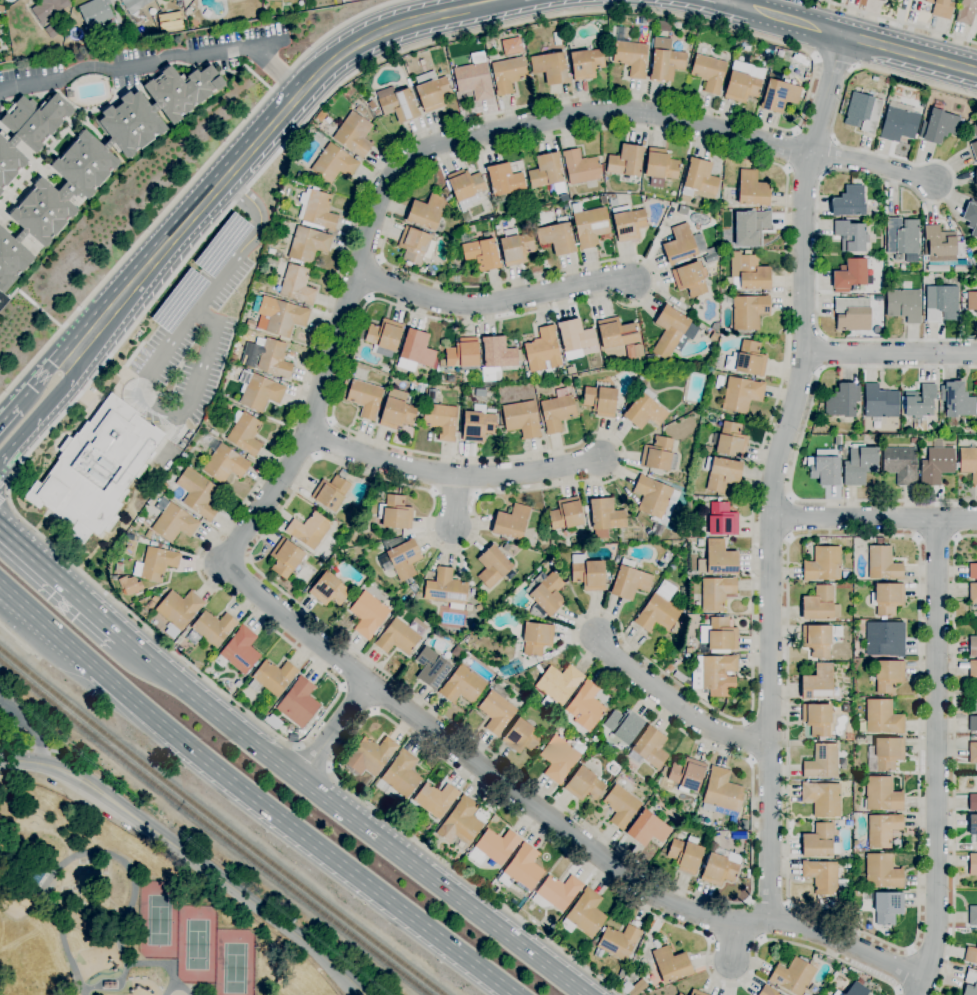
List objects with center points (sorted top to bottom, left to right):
building: (880, 0)
road: (725, 1)
road: (732, 1)
building: (134, 5)
building: (49, 8)
building: (941, 8)
building: (966, 12)
building: (96, 13)
road: (436, 16)
building: (650, 20)
road: (898, 21)
building: (663, 26)
building: (679, 26)
building: (53, 30)
road: (854, 38)
building: (510, 46)
building: (770, 48)
building: (629, 54)
road: (157, 61)
building: (665, 61)
road: (833, 61)
road: (330, 64)
building: (586, 64)
building: (550, 68)
building: (708, 73)
building: (507, 75)
building: (473, 81)
building: (743, 81)
building: (432, 91)
building: (69, 94)
building: (779, 96)
building: (397, 104)
building: (976, 111)
building: (862, 112)
building: (899, 124)
building: (940, 126)
building: (974, 130)
building: (28, 131)
road: (795, 131)
building: (352, 134)
road: (261, 137)
road: (815, 138)
road: (835, 141)
building: (974, 149)
road: (793, 150)
road: (829, 156)
road: (751, 158)
building: (100, 159)
building: (626, 161)
building: (334, 164)
road: (873, 165)
building: (660, 167)
building: (581, 169)
road: (787, 169)
road: (807, 170)
building: (546, 171)
road: (825, 173)
road: (395, 174)
building: (976, 178)
building: (504, 180)
road: (191, 181)
building: (698, 181)
road: (906, 186)
building: (465, 188)
building: (752, 189)
building: (613, 202)
building: (849, 202)
building: (317, 209)
building: (426, 212)
building: (971, 216)
building: (627, 223)
road: (185, 224)
building: (590, 227)
building: (750, 227)
building: (485, 235)
building: (851, 236)
building: (902, 236)
building: (557, 237)
road: (247, 238)
building: (308, 244)
building: (680, 244)
building: (222, 245)
building: (415, 245)
building: (941, 245)
building: (516, 249)
building: (481, 254)
building: (710, 257)
road: (379, 259)
building: (937, 269)
building: (748, 273)
building: (851, 276)
road: (371, 278)
building: (691, 279)
building: (297, 285)
building: (876, 296)
road: (368, 298)
building: (179, 301)
road: (493, 302)
building: (971, 302)
building: (941, 303)
building: (904, 305)
road: (112, 311)
building: (749, 312)
building: (852, 314)
building: (282, 316)
building: (669, 331)
building: (616, 333)
building: (384, 334)
building: (574, 335)
road: (822, 336)
building: (713, 337)
parking lot: (192, 342)
building: (543, 350)
building: (415, 351)
building: (637, 351)
building: (463, 353)
building: (499, 353)
road: (819, 353)
road: (889, 353)
building: (232, 358)
building: (272, 358)
building: (747, 360)
building: (650, 361)
road: (819, 371)
road: (39, 373)
building: (261, 393)
building: (479, 393)
building: (741, 395)
building: (365, 398)
building: (600, 400)
building: (842, 400)
building: (957, 401)
building: (879, 402)
building: (920, 403)
road: (165, 409)
road: (5, 411)
road: (44, 411)
building: (398, 411)
building: (645, 411)
building: (556, 413)
building: (521, 419)
building: (441, 420)
road: (330, 421)
building: (477, 426)
building: (245, 434)
road: (321, 438)
building: (913, 440)
building: (731, 441)
road: (798, 447)
building: (708, 450)
building: (657, 454)
building: (183, 456)
road: (316, 456)
building: (968, 463)
building: (225, 464)
building: (859, 465)
building: (900, 465)
building: (936, 465)
building: (95, 468)
building: (825, 468)
building: (722, 473)
road: (774, 473)
road: (450, 474)
road: (5, 491)
road: (433, 491)
road: (454, 491)
building: (331, 493)
building: (197, 494)
road: (476, 494)
building: (652, 496)
road: (790, 498)
road: (454, 500)
building: (394, 513)
building: (566, 514)
building: (605, 517)
road: (787, 518)
road: (874, 518)
building: (722, 520)
building: (173, 521)
building: (511, 523)
building: (309, 530)
road: (788, 538)
building: (285, 558)
building: (404, 559)
building: (718, 560)
building: (883, 563)
building: (156, 564)
building: (823, 565)
building: (492, 567)
building: (973, 571)
building: (587, 573)
road: (62, 581)
building: (629, 581)
building: (129, 585)
building: (329, 589)
building: (446, 589)
building: (716, 593)
building: (973, 593)
building: (545, 594)
building: (157, 597)
building: (887, 598)
building: (150, 604)
building: (820, 605)
road: (16, 610)
building: (659, 610)
building: (179, 611)
building: (369, 614)
building: (211, 629)
building: (678, 629)
building: (719, 635)
building: (397, 637)
building: (537, 638)
building: (885, 639)
building: (819, 640)
road: (19, 641)
road: (162, 643)
building: (973, 646)
building: (688, 650)
building: (239, 651)
building: (457, 652)
building: (431, 668)
building: (669, 668)
building: (973, 672)
building: (718, 675)
building: (888, 676)
building: (272, 677)
building: (818, 683)
building: (238, 684)
building: (462, 685)
road: (343, 687)
building: (557, 687)
road: (360, 697)
building: (298, 703)
road: (680, 704)
building: (586, 707)
road: (375, 710)
building: (496, 710)
building: (883, 718)
building: (817, 719)
road: (746, 720)
building: (273, 723)
road: (31, 724)
building: (973, 724)
building: (625, 726)
road: (334, 731)
building: (292, 737)
building: (522, 737)
building: (860, 739)
road: (750, 740)
building: (590, 742)
road: (31, 747)
building: (649, 748)
building: (973, 753)
building: (885, 754)
building: (370, 756)
road: (313, 758)
building: (558, 758)
road: (936, 758)
road: (953, 758)
road: (751, 760)
building: (822, 762)
building: (614, 769)
building: (687, 774)
building: (399, 777)
road: (467, 778)
building: (584, 785)
building: (721, 792)
building: (882, 794)
road: (251, 797)
building: (435, 799)
building: (822, 799)
building: (972, 802)
building: (621, 806)
road: (351, 819)
road: (550, 820)
building: (460, 823)
building: (849, 823)
railway: (218, 825)
building: (972, 828)
building: (648, 829)
railway: (213, 830)
building: (882, 830)
building: (429, 841)
building: (713, 841)
building: (819, 842)
building: (493, 847)
building: (685, 854)
road: (191, 859)
building: (973, 865)
building: (720, 866)
building: (522, 869)
building: (882, 872)
building: (821, 877)
road: (133, 890)
building: (556, 893)
road: (748, 902)
road: (787, 905)
road: (768, 906)
building: (887, 907)
park: (125, 911)
building: (585, 914)
building: (973, 916)
road: (61, 920)
park: (161, 921)
road: (917, 923)
road: (710, 937)
road: (735, 937)
road: (761, 939)
building: (619, 941)
road: (733, 944)
park: (200, 947)
building: (597, 953)
building: (971, 955)
park: (237, 963)
building: (671, 965)
road: (903, 971)
building: (792, 976)
building: (970, 983)
building: (858, 988)
building: (767, 991)
building: (696, 992)
building: (838, 993)
building: (678, 994)
building: (680, 994)

